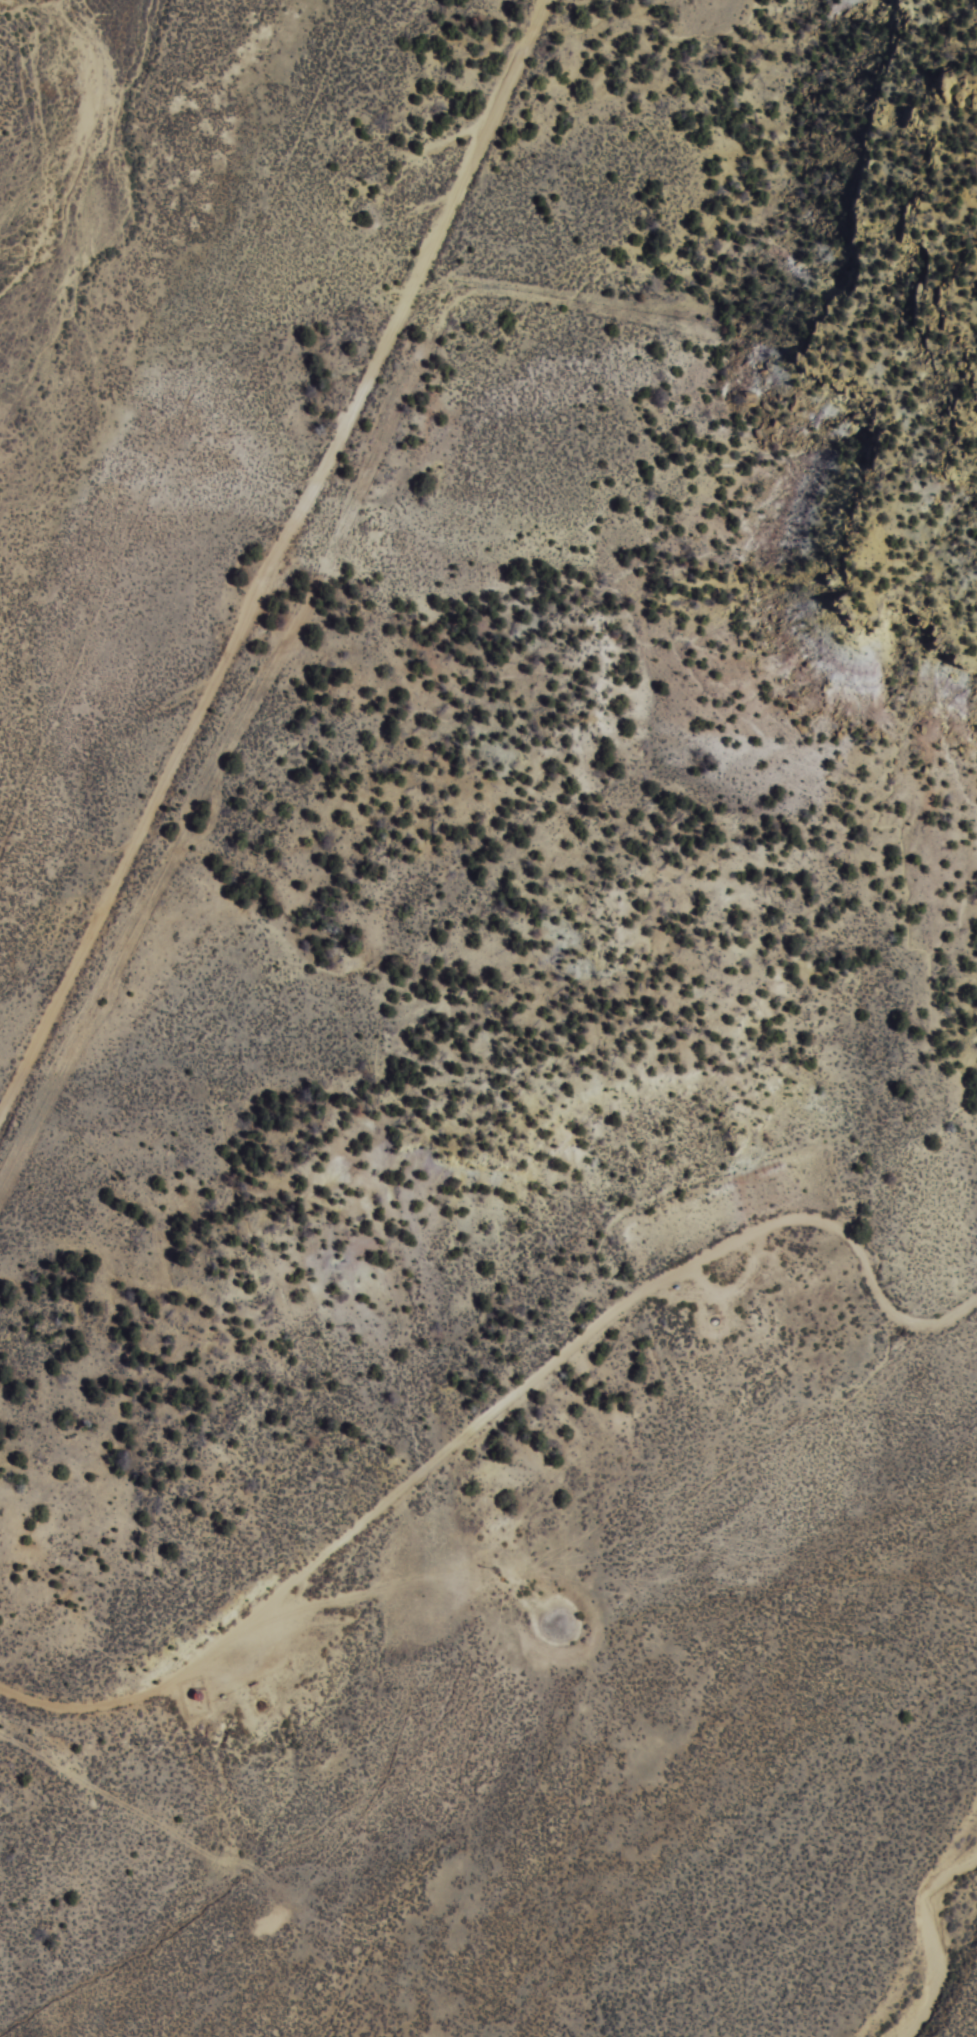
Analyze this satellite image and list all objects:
road: (281, 563)
road: (67, 1686)

